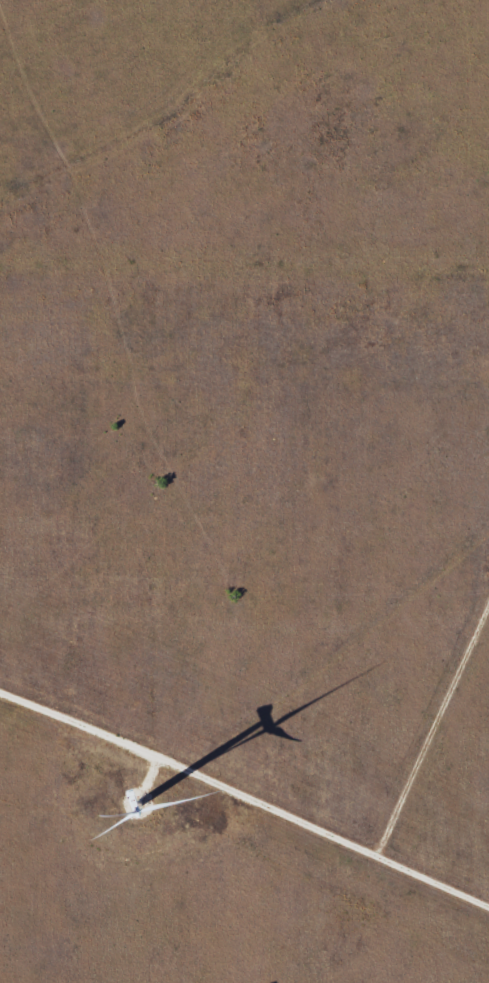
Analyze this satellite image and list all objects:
wind turbine: (135, 810)

